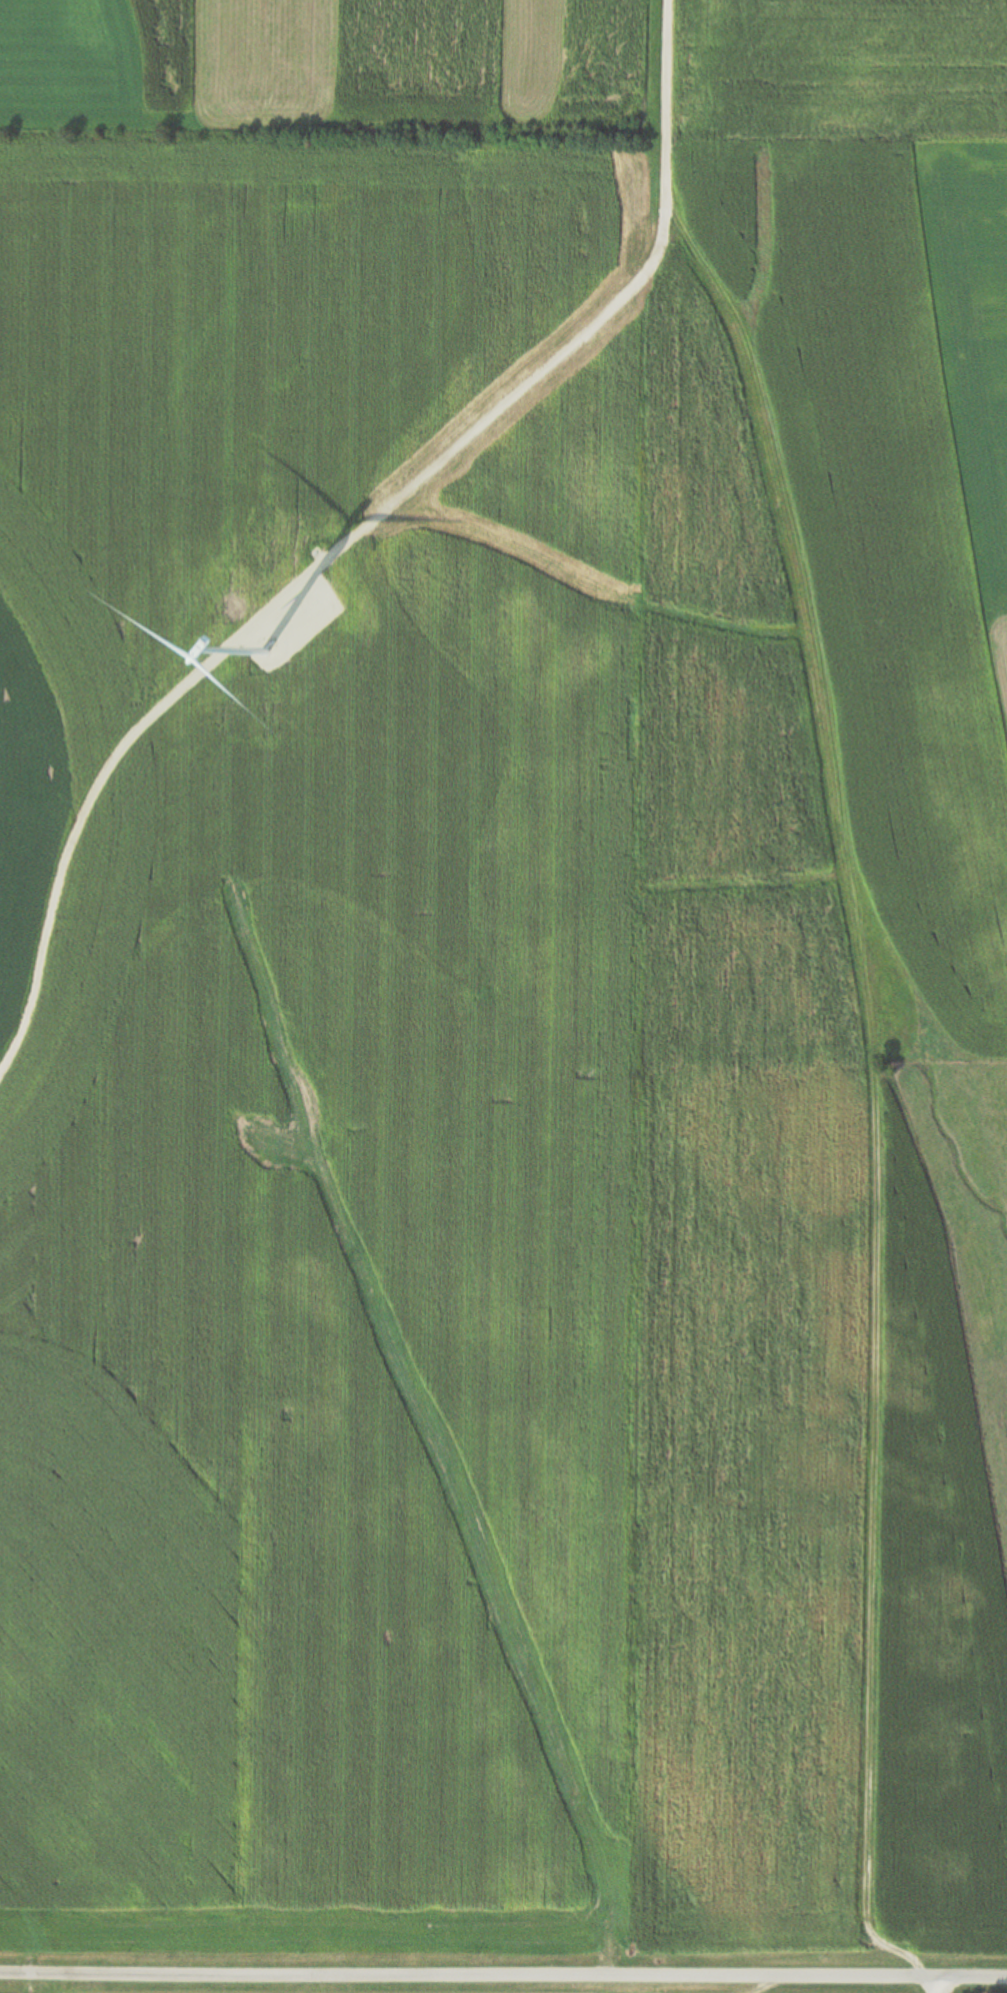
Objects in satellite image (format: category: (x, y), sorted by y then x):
wind turbine: (275, 644)
road: (503, 1971)
road: (923, 1983)

